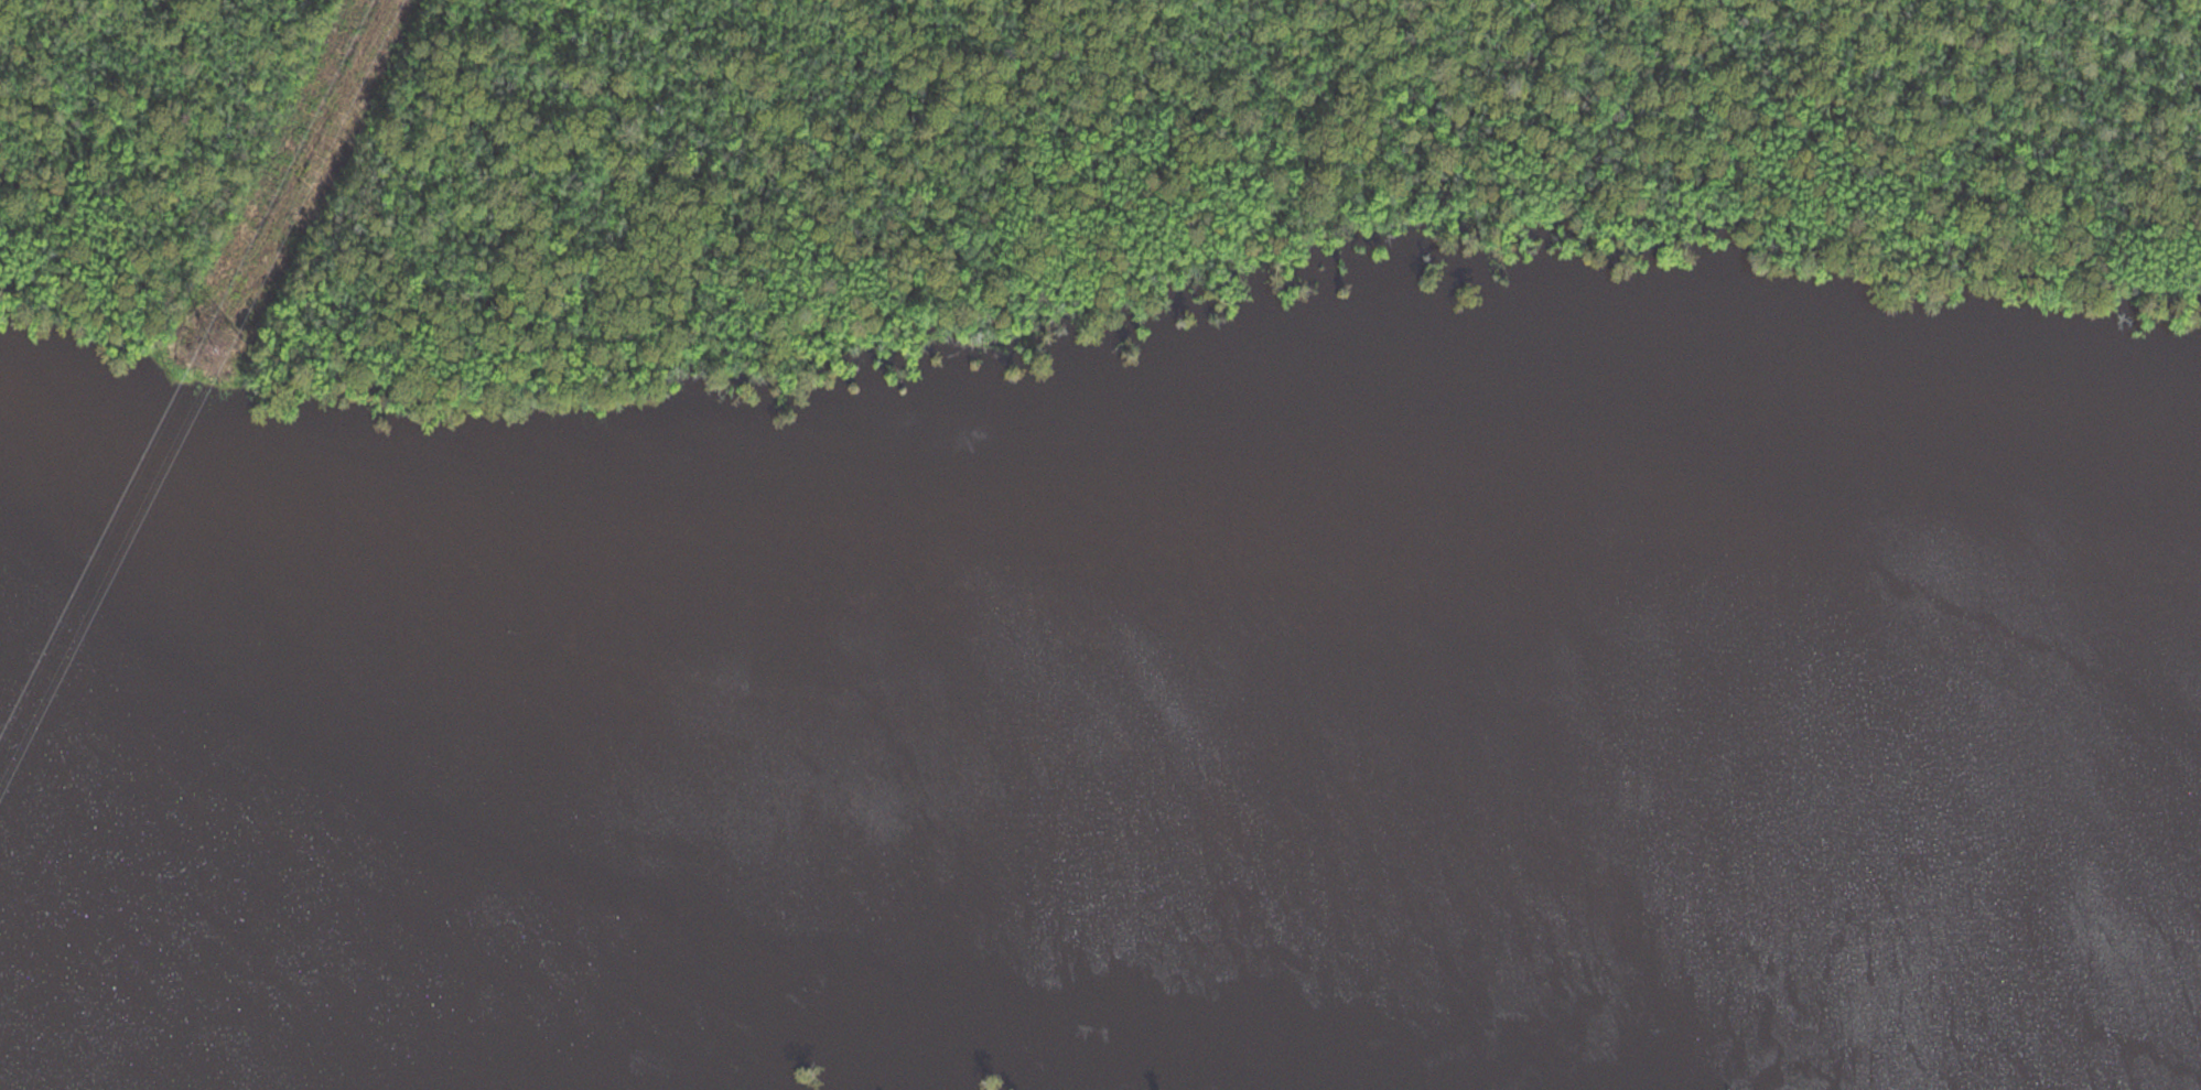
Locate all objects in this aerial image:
road: (300, 133)
park: (1018, 168)
power tower: (222, 341)
river: (1100, 724)

